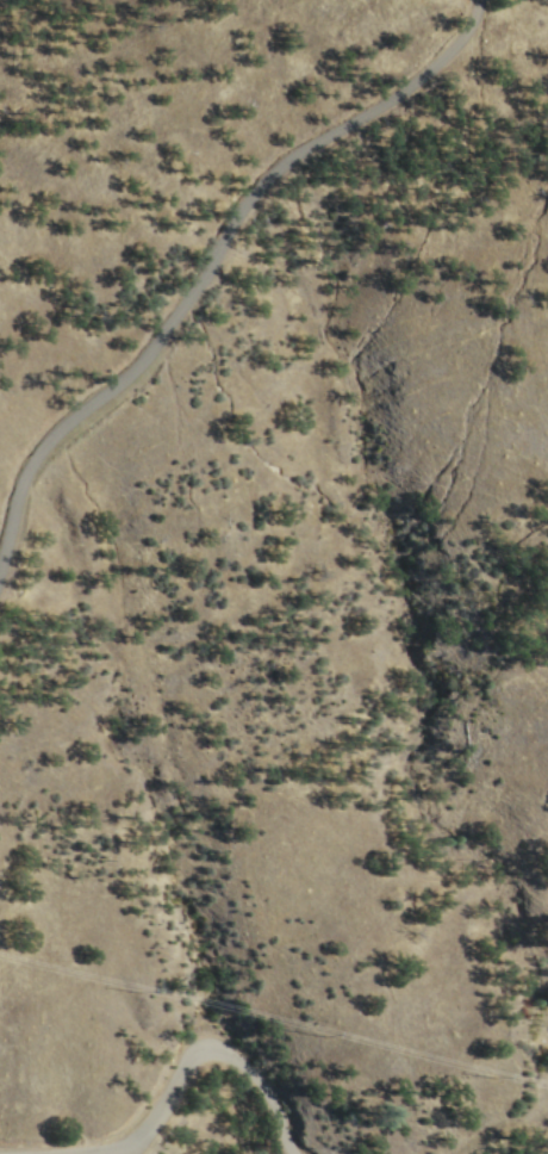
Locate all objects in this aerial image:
road: (216, 247)
road: (197, 1037)

